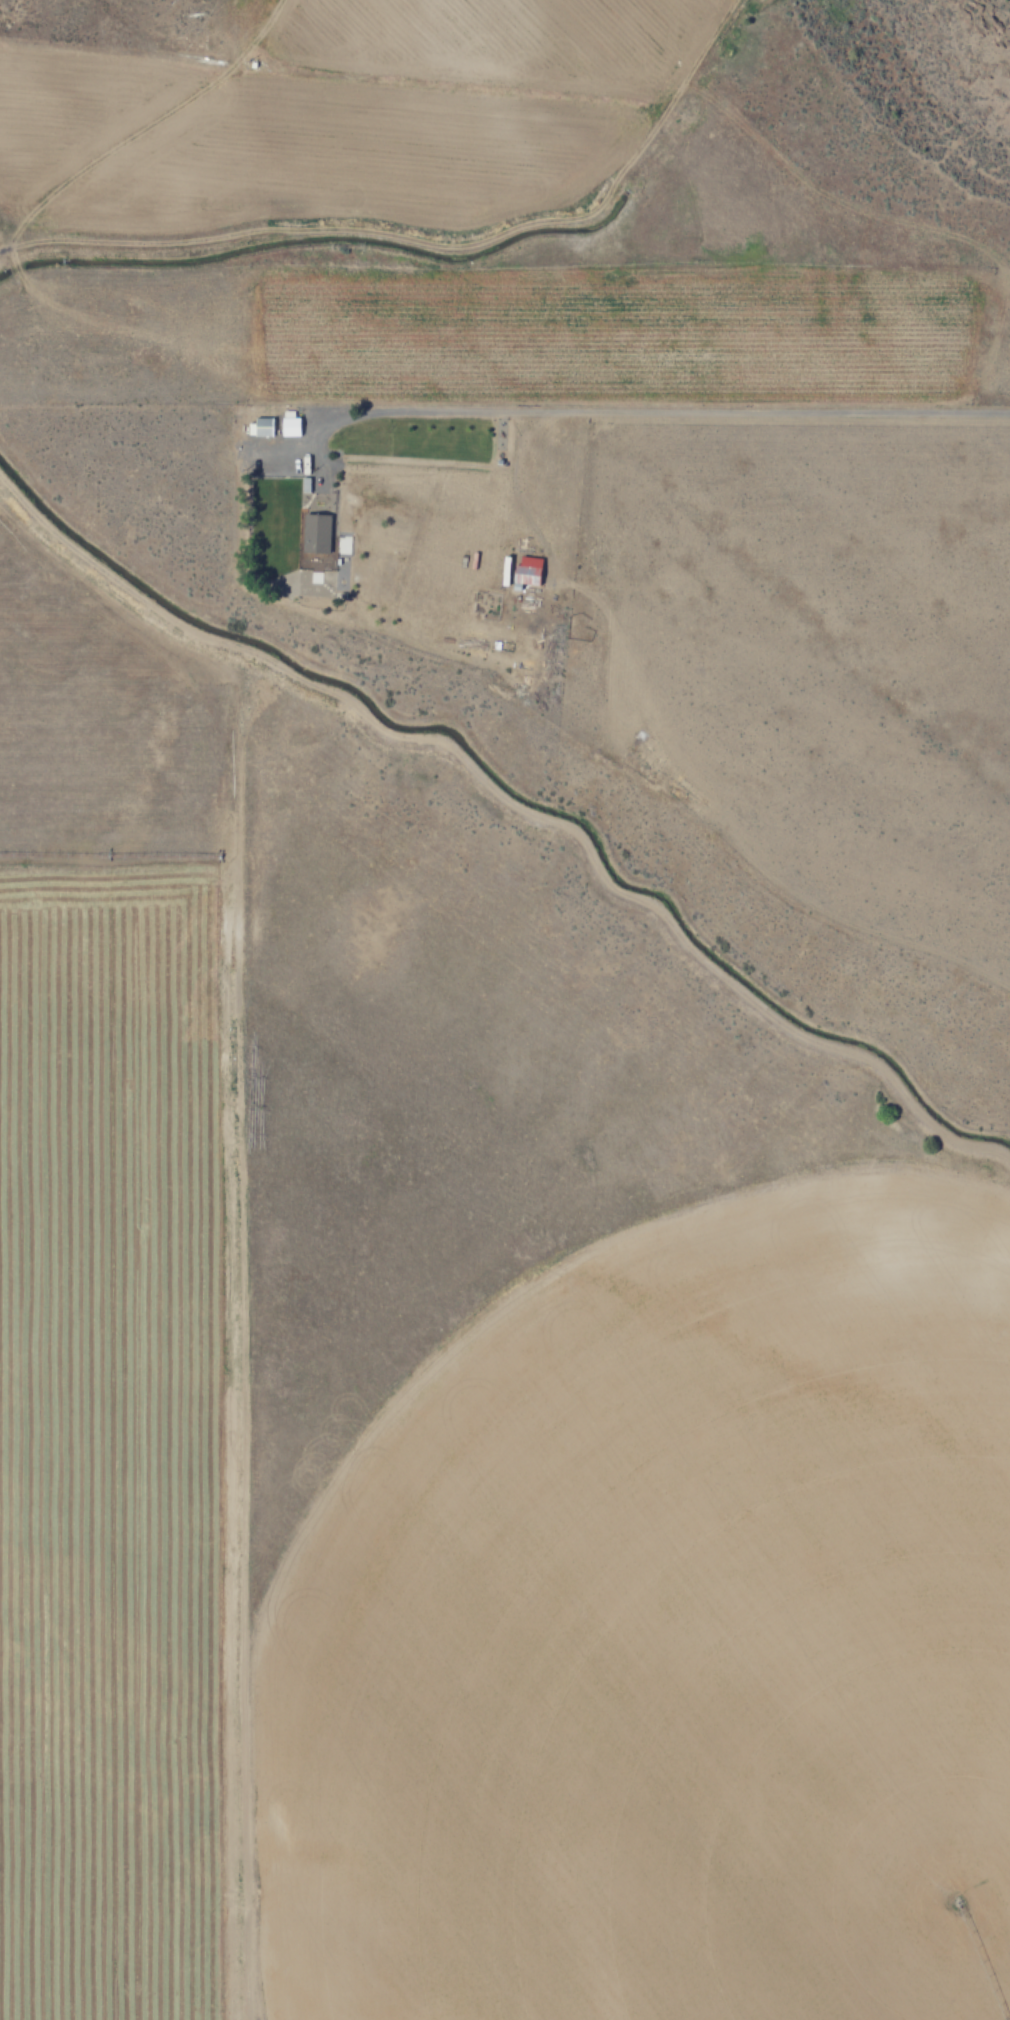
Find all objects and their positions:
road: (423, 230)
road: (644, 411)
building: (291, 423)
building: (261, 427)
building: (316, 533)
building: (528, 570)
crop: (484, 1158)

